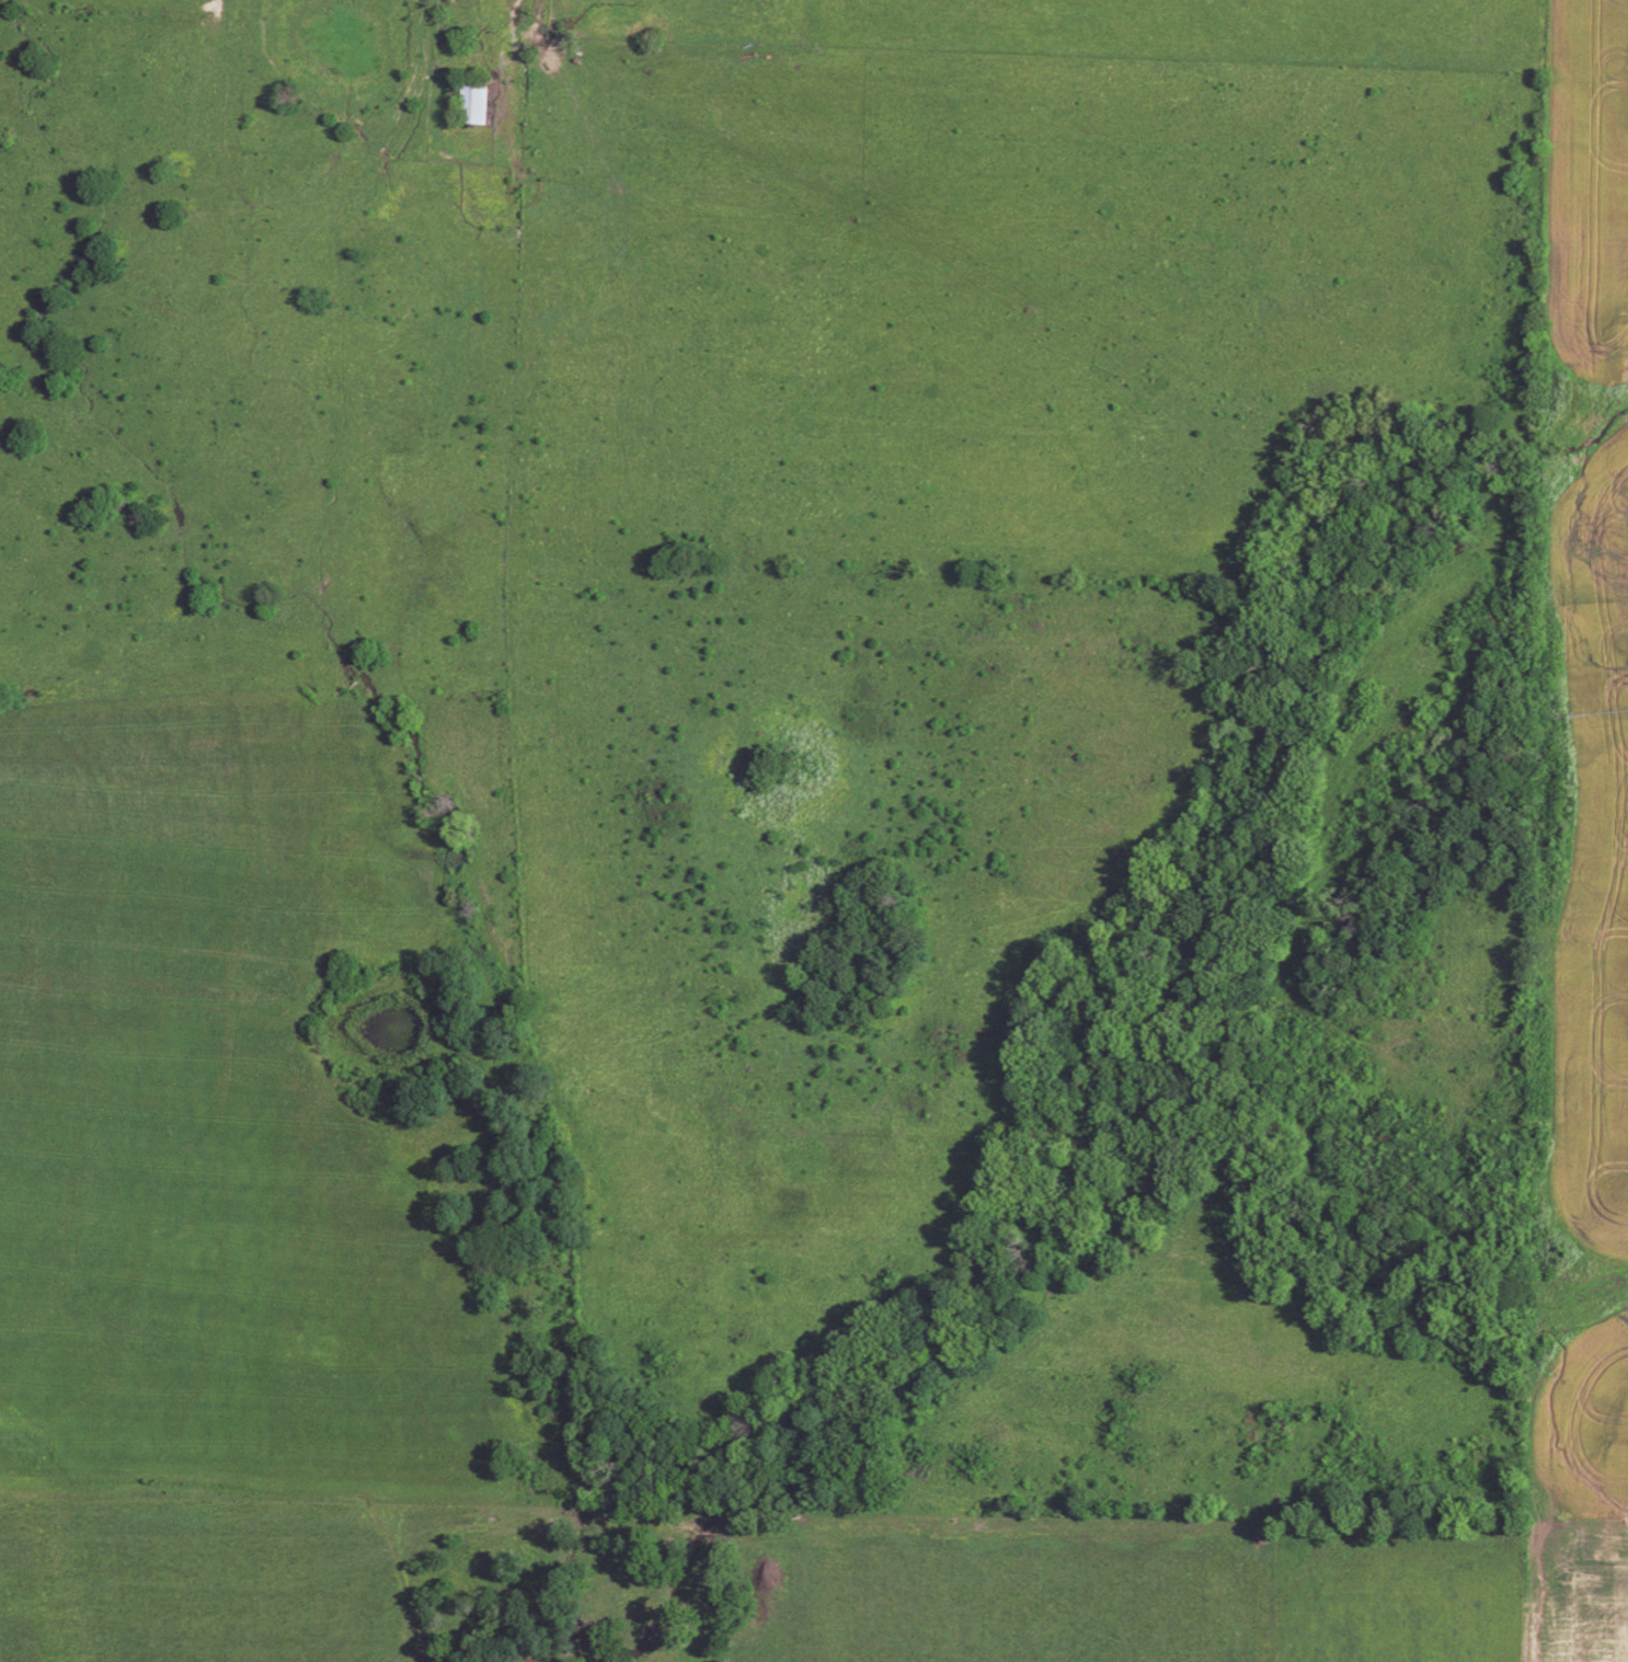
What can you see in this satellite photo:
building: (472, 98)

